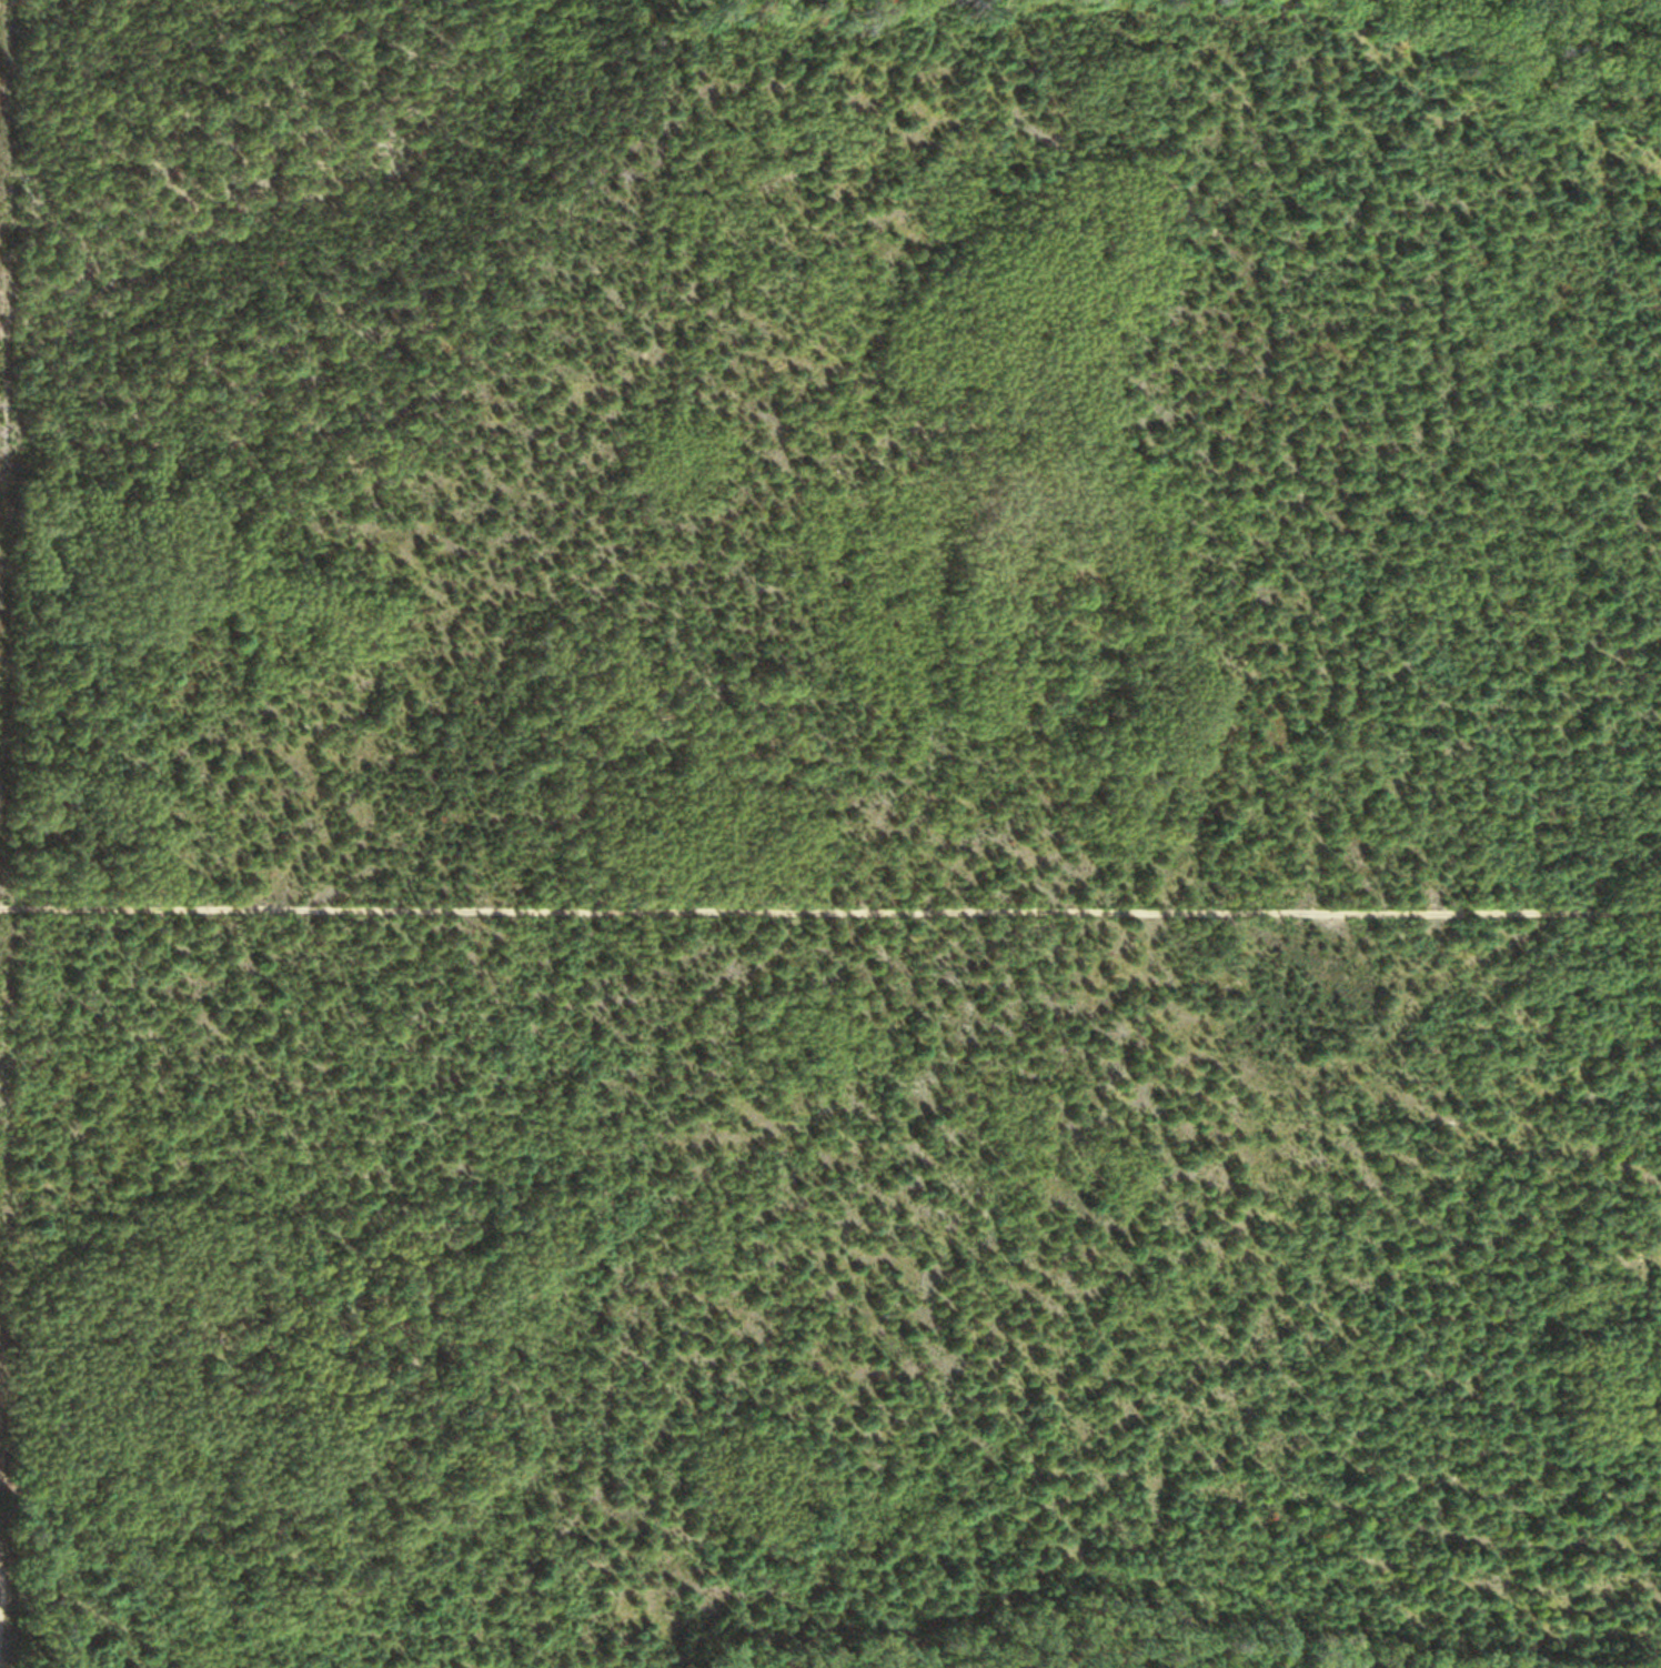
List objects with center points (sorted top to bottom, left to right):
road: (830, 902)

